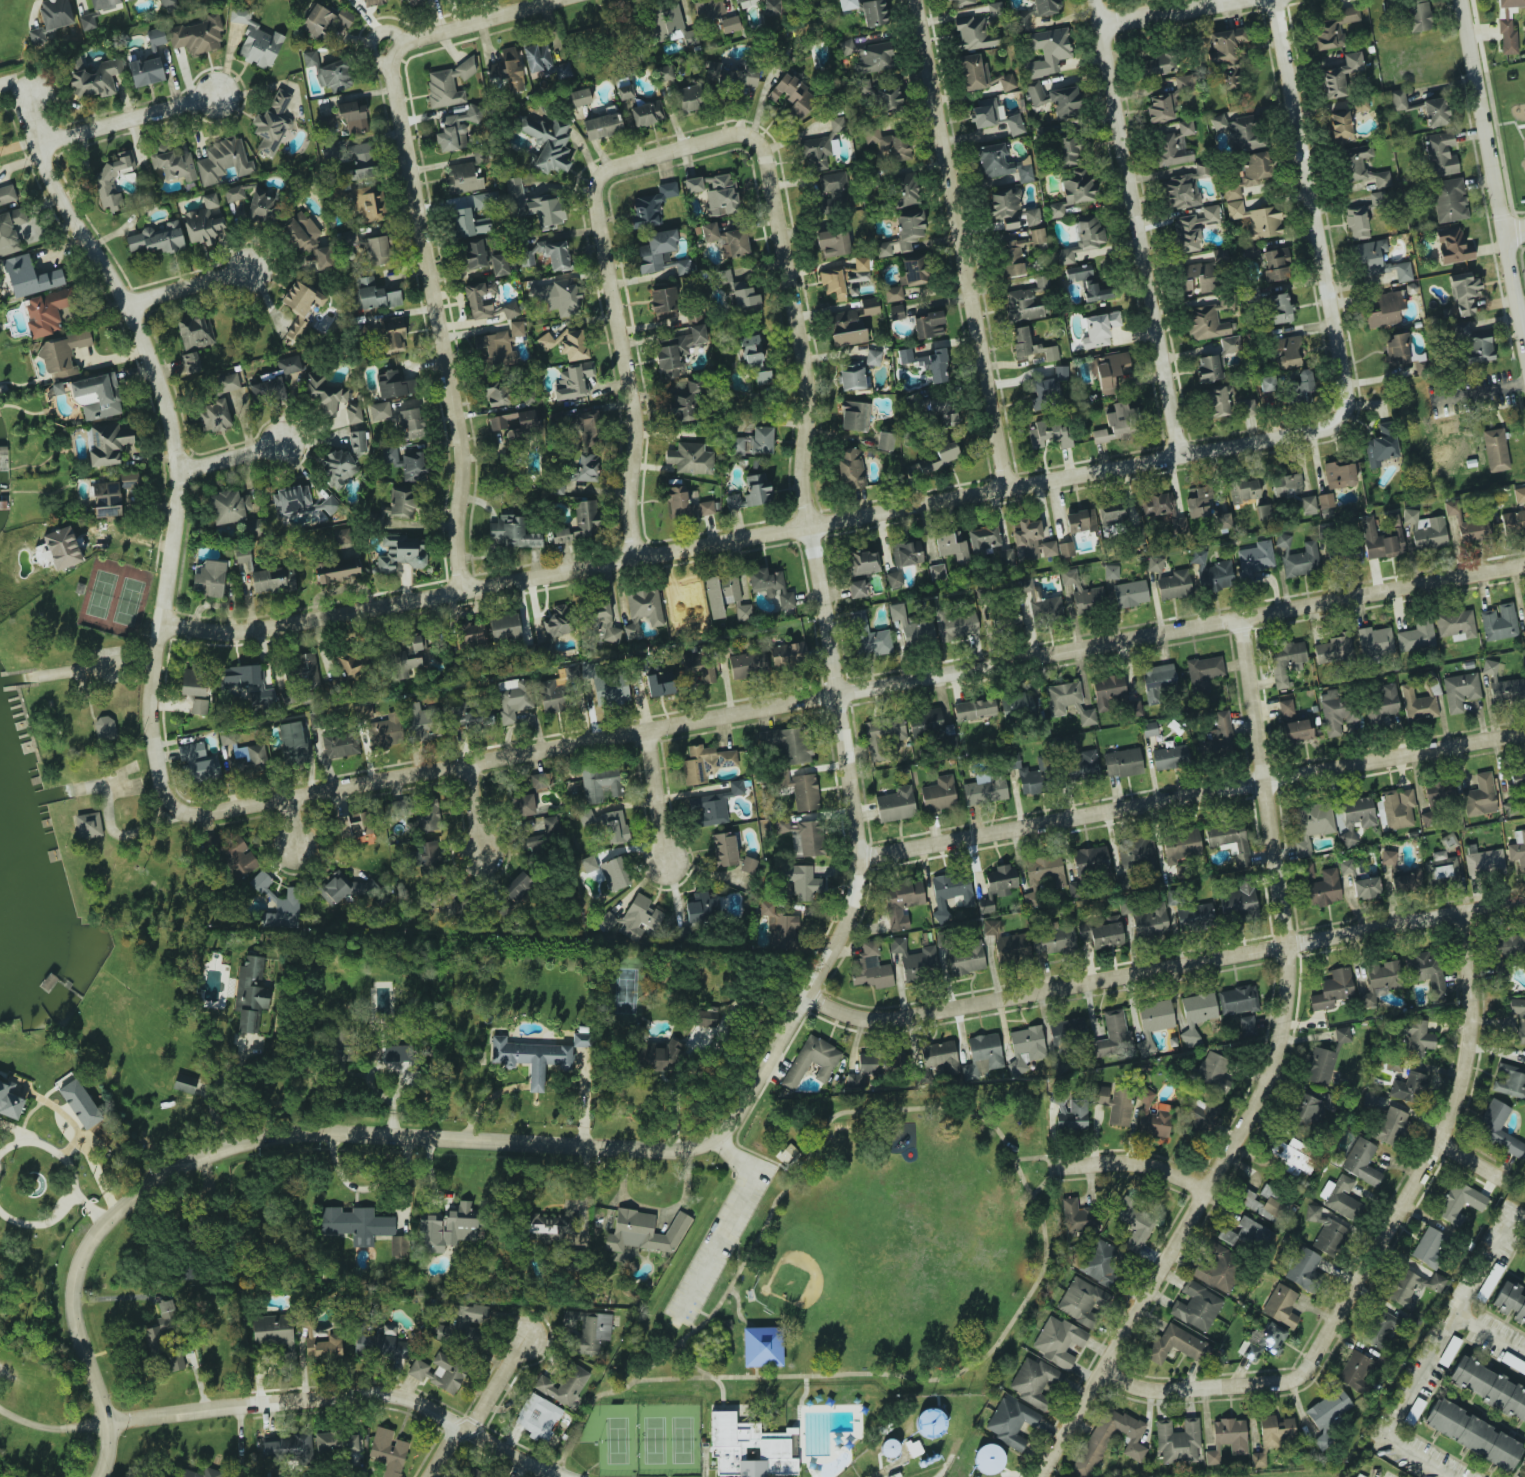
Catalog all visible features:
building: (413, 1)
building: (743, 1)
building: (374, 2)
building: (103, 3)
building: (847, 5)
building: (771, 6)
building: (1045, 7)
building: (708, 8)
road: (1149, 10)
building: (873, 12)
building: (55, 13)
building: (1417, 15)
building: (324, 19)
building: (1022, 20)
building: (88, 21)
building: (667, 24)
building: (729, 24)
building: (1507, 26)
building: (1335, 27)
building: (972, 32)
road: (440, 34)
building: (198, 35)
building: (36, 36)
building: (156, 37)
building: (256, 40)
building: (1222, 45)
building: (1047, 52)
building: (868, 56)
building: (310, 58)
building: (537, 58)
building: (1156, 64)
building: (505, 69)
building: (563, 70)
building: (145, 71)
building: (973, 72)
building: (664, 73)
building: (1339, 75)
building: (334, 76)
building: (735, 78)
building: (1229, 78)
building: (95, 79)
building: (1007, 82)
building: (1183, 83)
building: (448, 84)
building: (1036, 93)
building: (793, 95)
building: (884, 95)
building: (579, 97)
building: (689, 98)
building: (1398, 99)
building: (1064, 102)
building: (1161, 108)
road: (144, 112)
building: (1434, 112)
building: (647, 113)
building: (985, 113)
building: (352, 116)
building: (272, 124)
building: (1014, 125)
building: (602, 126)
building: (1340, 126)
building: (454, 129)
building: (1237, 130)
building: (545, 141)
building: (889, 144)
building: (1172, 144)
building: (1067, 152)
building: (1440, 153)
building: (353, 158)
building: (223, 160)
building: (1001, 163)
building: (174, 164)
building: (1360, 167)
road: (1492, 170)
building: (1247, 176)
building: (463, 177)
building: (112, 179)
building: (834, 188)
building: (1182, 189)
building: (904, 190)
building: (715, 192)
building: (1072, 193)
building: (7, 195)
building: (1449, 200)
building: (253, 202)
building: (366, 202)
building: (533, 205)
building: (651, 205)
building: (1361, 217)
building: (1254, 219)
building: (204, 221)
building: (469, 223)
building: (820, 224)
road: (1128, 224)
building: (907, 228)
building: (1192, 228)
building: (10, 231)
road: (1515, 231)
building: (300, 232)
building: (1089, 232)
building: (349, 237)
building: (156, 238)
building: (726, 240)
road: (594, 242)
building: (832, 242)
road: (950, 242)
building: (1452, 246)
building: (883, 249)
building: (378, 250)
building: (656, 250)
building: (1250, 251)
building: (475, 253)
building: (548, 254)
building: (323, 256)
building: (1065, 256)
building: (1378, 260)
building: (498, 264)
building: (1274, 265)
building: (912, 271)
building: (29, 277)
building: (843, 279)
building: (1194, 279)
road: (200, 283)
building: (1088, 283)
building: (893, 293)
building: (1464, 293)
building: (376, 295)
building: (557, 296)
building: (480, 299)
building: (745, 300)
building: (662, 303)
building: (301, 305)
building: (1021, 305)
building: (869, 307)
building: (1279, 308)
building: (1385, 309)
building: (511, 310)
road: (1522, 311)
building: (45, 312)
building: (896, 312)
building: (1206, 322)
building: (928, 325)
building: (847, 328)
building: (1098, 329)
building: (195, 332)
building: (393, 335)
building: (546, 341)
building: (499, 343)
building: (574, 345)
building: (1030, 345)
building: (1398, 348)
road: (433, 349)
building: (678, 350)
building: (750, 350)
building: (1286, 352)
building: (62, 353)
building: (904, 356)
building: (873, 357)
building: (190, 362)
building: (933, 364)
building: (1209, 368)
building: (1112, 372)
building: (853, 376)
building: (277, 379)
building: (573, 381)
building: (763, 381)
building: (393, 385)
building: (1050, 385)
building: (1266, 385)
building: (1302, 387)
building: (495, 393)
building: (96, 396)
building: (331, 400)
building: (1215, 401)
building: (225, 403)
building: (682, 406)
building: (379, 411)
building: (942, 412)
building: (855, 416)
building: (410, 422)
building: (515, 423)
building: (1114, 424)
road: (166, 429)
building: (586, 429)
building: (1049, 432)
building: (761, 439)
building: (885, 440)
building: (357, 442)
building: (107, 443)
building: (736, 446)
building: (1381, 446)
building: (1495, 450)
road: (239, 452)
building: (390, 455)
building: (939, 459)
building: (338, 466)
building: (413, 466)
building: (849, 468)
building: (578, 472)
building: (1339, 475)
building: (1286, 486)
road: (967, 490)
building: (1243, 490)
building: (751, 492)
building: (111, 494)
building: (1326, 499)
building: (300, 502)
building: (1197, 502)
building: (1157, 504)
building: (1307, 504)
building: (228, 507)
building: (395, 507)
building: (1515, 514)
building: (1113, 517)
building: (1080, 521)
building: (1222, 521)
building: (580, 523)
building: (1468, 524)
building: (1179, 525)
building: (1425, 530)
building: (511, 533)
building: (342, 536)
building: (983, 538)
building: (1380, 540)
building: (1030, 541)
building: (952, 547)
building: (61, 548)
building: (1065, 549)
building: (907, 552)
building: (401, 553)
building: (242, 556)
building: (1345, 556)
building: (1253, 557)
building: (1296, 557)
building: (863, 562)
building: (1154, 563)
building: (337, 570)
building: (936, 572)
building: (1111, 572)
building: (1209, 572)
building: (208, 578)
building: (893, 579)
building: (273, 580)
building: (1172, 584)
building: (771, 586)
building: (857, 588)
building: (1082, 593)
building: (1130, 593)
building: (1524, 599)
building: (1036, 604)
building: (645, 606)
building: (602, 622)
building: (1499, 622)
building: (556, 623)
building: (956, 624)
building: (1456, 624)
building: (911, 626)
building: (504, 628)
building: (632, 629)
building: (471, 635)
building: (1416, 635)
building: (868, 636)
building: (1374, 642)
building: (1332, 650)
building: (786, 654)
building: (405, 655)
building: (1524, 655)
building: (1284, 662)
building: (746, 664)
building: (350, 665)
building: (701, 666)
building: (306, 667)
building: (1489, 667)
road: (86, 669)
building: (1203, 672)
road: (824, 678)
building: (1157, 681)
building: (193, 682)
building: (246, 682)
building: (659, 684)
building: (606, 685)
road: (851, 688)
building: (1460, 690)
building: (1504, 692)
building: (551, 695)
building: (1113, 695)
building: (513, 697)
building: (1068, 702)
building: (1017, 705)
building: (198, 706)
building: (1285, 707)
building: (974, 709)
building: (363, 711)
building: (418, 722)
building: (926, 723)
building: (105, 728)
building: (1149, 729)
building: (1297, 731)
building: (385, 733)
building: (882, 734)
building: (1217, 735)
building: (292, 743)
building: (788, 744)
building: (246, 754)
building: (1170, 757)
building: (199, 762)
building: (705, 762)
building: (1122, 762)
building: (1083, 765)
building: (1029, 780)
building: (1515, 780)
building: (600, 783)
building: (735, 787)
building: (799, 788)
building: (985, 789)
building: (939, 794)
building: (530, 795)
road: (1189, 796)
building: (1480, 796)
building: (896, 804)
building: (710, 809)
building: (1395, 809)
road: (650, 812)
building: (1426, 813)
building: (425, 818)
building: (1356, 819)
road: (473, 821)
building: (1311, 824)
building: (88, 825)
building: (615, 826)
road: (295, 827)
building: (354, 827)
building: (802, 836)
building: (1230, 840)
building: (211, 843)
building: (1181, 844)
building: (725, 848)
building: (1517, 848)
building: (428, 856)
building: (1388, 857)
building: (237, 858)
building: (1089, 861)
building: (1483, 862)
building: (589, 863)
building: (1350, 866)
building: (1439, 866)
building: (1045, 870)
building: (1307, 871)
building: (615, 873)
building: (999, 880)
building: (800, 881)
building: (1406, 881)
building: (517, 887)
building: (1366, 887)
building: (1324, 888)
building: (349, 889)
building: (952, 889)
building: (1239, 901)
building: (901, 903)
building: (702, 909)
building: (1194, 916)
building: (633, 918)
building: (1150, 922)
building: (779, 925)
building: (991, 926)
building: (1100, 934)
building: (1053, 939)
building: (1510, 944)
building: (897, 945)
building: (1012, 948)
building: (965, 959)
building: (917, 962)
road: (1161, 966)
building: (870, 968)
building: (1501, 969)
building: (1427, 970)
building: (1383, 975)
building: (1332, 989)
building: (249, 995)
building: (1237, 1000)
building: (1196, 1015)
building: (1518, 1017)
building: (1153, 1022)
building: (1246, 1025)
building: (1069, 1031)
building: (1113, 1034)
building: (701, 1038)
building: (1416, 1038)
building: (580, 1039)
building: (339, 1045)
building: (1025, 1048)
building: (984, 1051)
building: (654, 1055)
building: (940, 1057)
building: (532, 1059)
building: (1323, 1060)
building: (396, 1061)
building: (811, 1061)
building: (64, 1079)
road: (1270, 1079)
building: (1509, 1081)
building: (184, 1083)
building: (1406, 1086)
building: (1217, 1094)
building: (9, 1101)
building: (80, 1103)
building: (1114, 1104)
building: (1306, 1110)
building: (1072, 1116)
building: (1153, 1116)
building: (1390, 1125)
building: (1498, 1128)
road: (278, 1130)
road: (50, 1148)
building: (788, 1155)
building: (1291, 1155)
road: (1470, 1159)
building: (1362, 1162)
road: (1137, 1164)
road: (1413, 1194)
building: (1339, 1196)
building: (1249, 1202)
building: (1460, 1202)
road: (88, 1206)
building: (1079, 1218)
road: (724, 1221)
road: (41, 1223)
building: (1134, 1223)
building: (355, 1224)
building: (549, 1227)
building: (448, 1228)
building: (1323, 1230)
building: (644, 1231)
building: (1245, 1231)
building: (399, 1245)
building: (1428, 1247)
building: (1100, 1259)
building: (1216, 1267)
building: (1302, 1267)
building: (1488, 1282)
building: (1414, 1288)
building: (1506, 1296)
building: (1081, 1301)
building: (1281, 1305)
building: (1197, 1307)
building: (1520, 1313)
building: (463, 1319)
building: (1380, 1326)
building: (587, 1330)
building: (274, 1331)
road: (1489, 1331)
building: (165, 1337)
building: (1058, 1341)
building: (1263, 1341)
building: (388, 1343)
building: (362, 1344)
building: (1173, 1345)
building: (329, 1346)
building: (762, 1346)
road: (1428, 1353)
building: (1356, 1370)
building: (439, 1372)
building: (1471, 1375)
building: (1034, 1380)
building: (564, 1384)
road: (483, 1391)
road: (1166, 1393)
road: (298, 1396)
building: (1506, 1397)
building: (1328, 1408)
building: (538, 1417)
building: (1445, 1417)
building: (1011, 1421)
building: (929, 1423)
building: (1276, 1430)
building: (1230, 1434)
building: (1098, 1439)
building: (1177, 1441)
building: (336, 1443)
building: (1489, 1443)
building: (286, 1447)
building: (749, 1448)
building: (388, 1451)
building: (1212, 1455)
building: (989, 1459)
building: (1258, 1459)
building: (185, 1473)
building: (1357, 1476)

